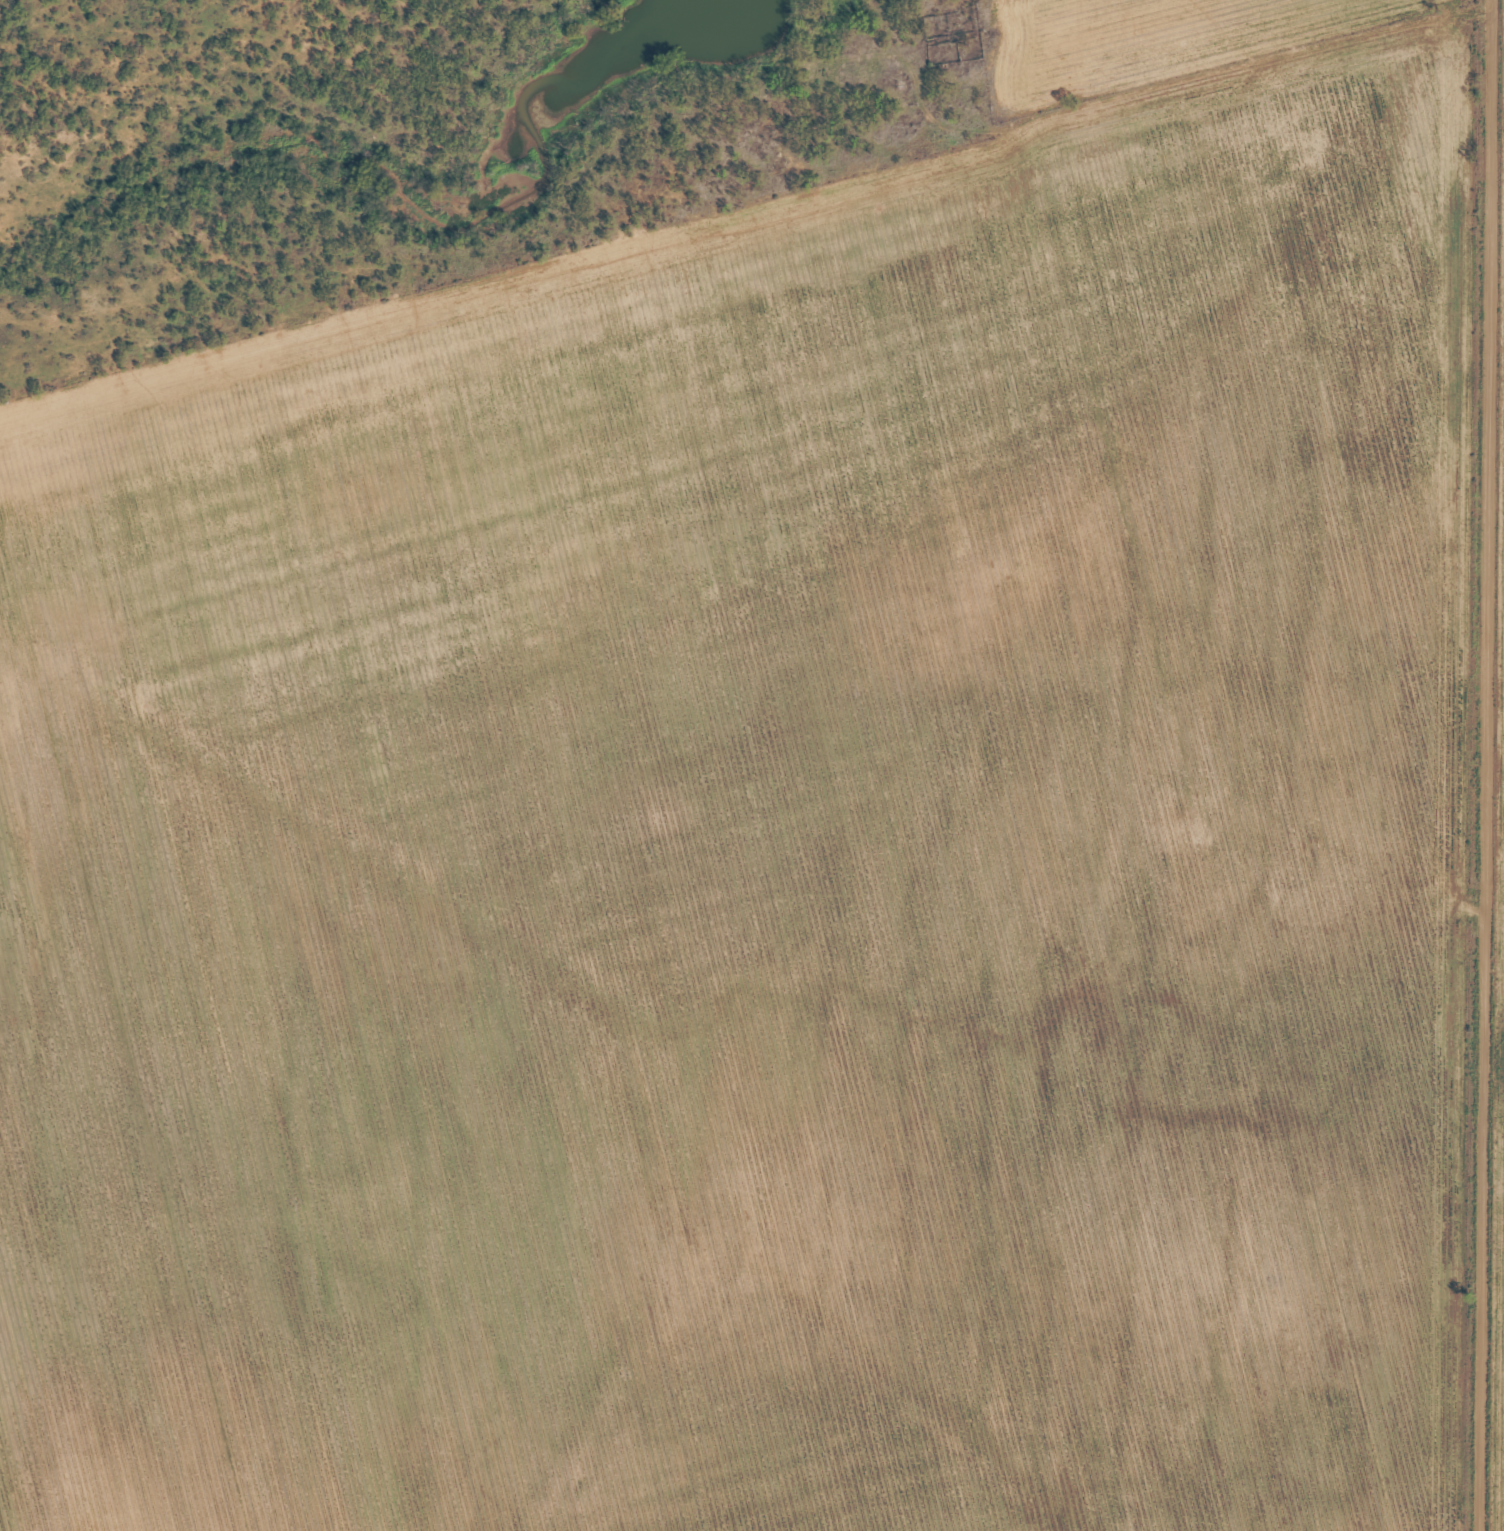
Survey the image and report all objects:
road: (1483, 765)

